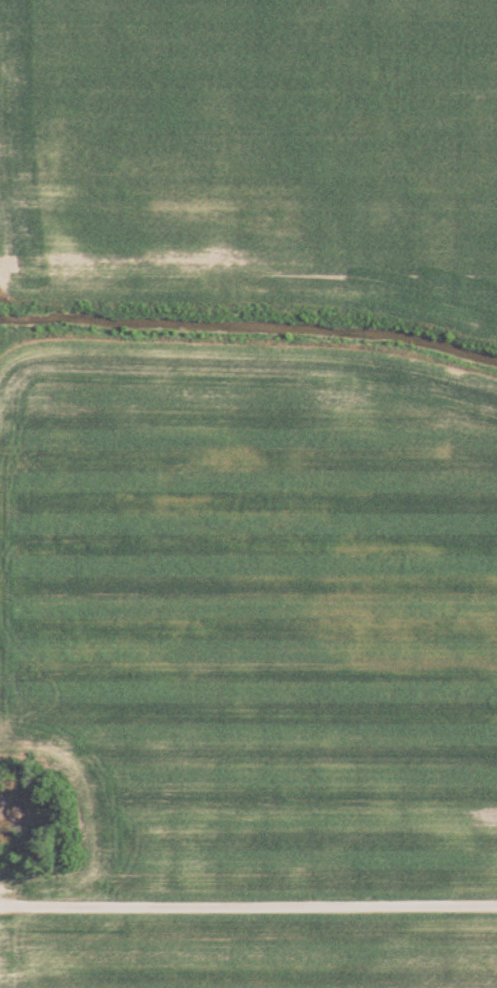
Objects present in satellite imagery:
river: (250, 331)
road: (248, 910)

